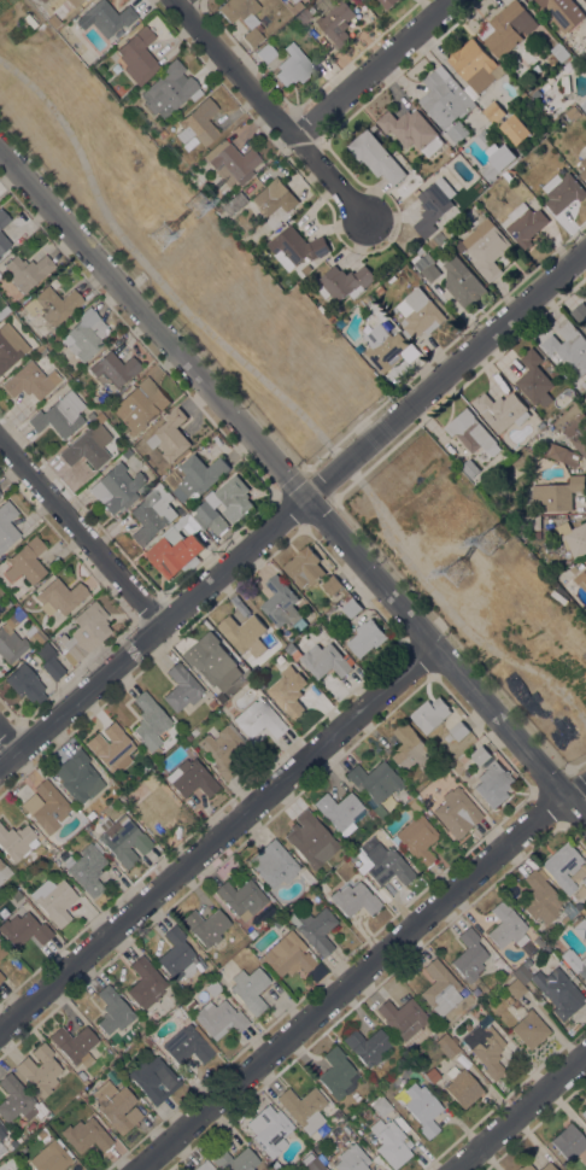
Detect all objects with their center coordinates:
building: (72, 1)
building: (78, 1)
road: (177, 1)
building: (387, 4)
building: (294, 6)
building: (562, 13)
building: (304, 16)
building: (105, 17)
building: (242, 17)
building: (338, 24)
building: (505, 29)
building: (122, 33)
building: (266, 52)
building: (559, 53)
building: (137, 55)
building: (549, 59)
building: (293, 65)
building: (475, 66)
road: (371, 68)
building: (169, 89)
building: (535, 94)
building: (445, 99)
building: (584, 105)
road: (273, 111)
building: (494, 112)
building: (573, 113)
building: (199, 123)
building: (515, 130)
building: (412, 131)
building: (163, 134)
building: (484, 140)
building: (376, 158)
building: (498, 162)
building: (232, 163)
building: (584, 170)
building: (402, 191)
building: (563, 192)
building: (274, 198)
building: (232, 204)
power tower: (201, 205)
building: (434, 205)
building: (4, 218)
building: (525, 224)
building: (449, 230)
power tower: (164, 238)
building: (439, 240)
building: (4, 244)
building: (297, 248)
building: (486, 248)
building: (427, 268)
building: (27, 271)
road: (153, 273)
building: (344, 283)
building: (462, 283)
building: (380, 291)
building: (368, 298)
building: (53, 304)
building: (322, 309)
building: (4, 311)
building: (580, 312)
building: (420, 315)
building: (332, 318)
building: (585, 327)
building: (86, 334)
building: (382, 341)
building: (568, 349)
building: (41, 350)
building: (8, 352)
building: (115, 368)
building: (555, 374)
building: (534, 380)
building: (30, 381)
building: (140, 405)
building: (502, 411)
building: (60, 415)
building: (90, 416)
building: (99, 419)
building: (540, 426)
building: (471, 433)
building: (578, 433)
building: (171, 437)
building: (87, 447)
building: (561, 454)
road: (375, 461)
building: (470, 469)
road: (281, 473)
building: (194, 478)
building: (117, 487)
building: (557, 495)
building: (225, 505)
road: (292, 508)
building: (182, 510)
building: (152, 515)
building: (531, 523)
building: (6, 525)
building: (183, 527)
road: (81, 531)
building: (537, 534)
power tower: (494, 538)
building: (574, 538)
building: (175, 552)
building: (27, 561)
building: (305, 568)
building: (574, 569)
power tower: (457, 571)
building: (581, 580)
building: (332, 585)
building: (60, 597)
building: (281, 603)
building: (351, 607)
road: (449, 610)
building: (20, 613)
building: (87, 631)
building: (245, 634)
building: (35, 636)
building: (367, 638)
building: (11, 645)
building: (293, 651)
building: (49, 660)
building: (210, 661)
building: (327, 661)
building: (25, 683)
building: (181, 688)
building: (288, 691)
building: (212, 703)
building: (222, 709)
building: (430, 715)
building: (258, 719)
building: (150, 721)
building: (459, 731)
road: (10, 738)
building: (449, 738)
building: (111, 748)
building: (409, 748)
building: (222, 749)
building: (481, 755)
road: (579, 764)
building: (78, 777)
building: (191, 778)
building: (376, 784)
building: (493, 784)
building: (122, 797)
building: (154, 806)
building: (414, 806)
building: (49, 807)
road: (575, 808)
building: (341, 812)
building: (457, 812)
road: (216, 838)
building: (310, 838)
building: (417, 840)
building: (17, 841)
building: (124, 841)
building: (352, 856)
building: (0, 859)
building: (274, 864)
building: (387, 865)
building: (562, 865)
building: (87, 868)
building: (4, 871)
building: (307, 877)
building: (584, 881)
building: (242, 897)
building: (354, 899)
building: (544, 899)
building: (54, 900)
building: (585, 919)
building: (277, 923)
building: (506, 925)
building: (206, 926)
building: (579, 926)
building: (24, 929)
building: (315, 929)
building: (538, 941)
building: (2, 950)
building: (287, 954)
building: (177, 955)
building: (469, 955)
building: (575, 963)
road: (359, 973)
building: (1, 976)
building: (146, 983)
building: (212, 987)
building: (440, 988)
building: (250, 989)
building: (515, 989)
building: (552, 989)
building: (511, 1001)
building: (191, 1005)
building: (113, 1011)
building: (403, 1017)
building: (219, 1018)
building: (151, 1022)
building: (531, 1029)
building: (438, 1030)
building: (75, 1045)
building: (187, 1045)
building: (446, 1045)
building: (368, 1046)
building: (486, 1049)
building: (40, 1070)
building: (81, 1075)
building: (338, 1075)
building: (432, 1075)
building: (154, 1080)
building: (462, 1086)
building: (17, 1100)
building: (379, 1105)
building: (117, 1106)
building: (420, 1107)
building: (303, 1108)
building: (157, 1111)
road: (520, 1111)
building: (584, 1112)
building: (367, 1115)
building: (269, 1130)
building: (1, 1134)
building: (87, 1135)
building: (568, 1141)
building: (391, 1142)
building: (51, 1157)
building: (352, 1159)
building: (236, 1160)
building: (311, 1163)
building: (204, 1166)
building: (526, 1166)
building: (547, 1166)
building: (4, 1169)

